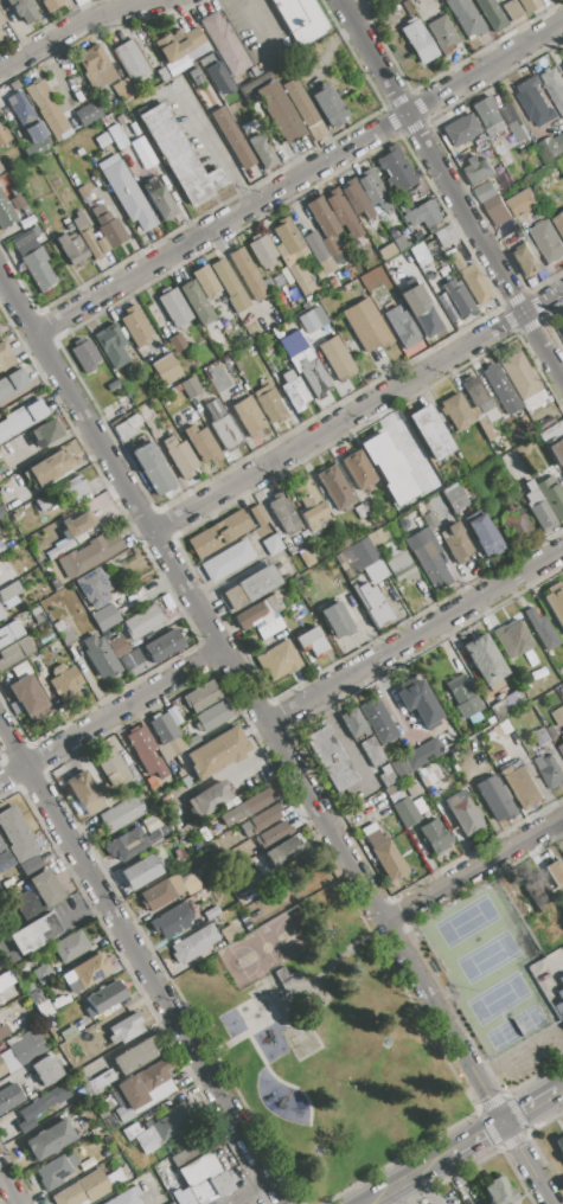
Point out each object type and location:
building: (51, 5)
building: (529, 5)
building: (407, 7)
building: (23, 9)
building: (512, 9)
building: (491, 14)
building: (466, 18)
building: (1, 20)
building: (302, 20)
road: (81, 23)
building: (1, 33)
building: (442, 34)
building: (418, 40)
building: (226, 43)
building: (173, 46)
building: (133, 60)
building: (96, 68)
building: (162, 73)
road: (56, 75)
building: (216, 75)
building: (14, 85)
building: (122, 87)
building: (554, 87)
building: (533, 101)
building: (300, 103)
building: (327, 105)
building: (45, 109)
building: (279, 111)
building: (487, 113)
building: (508, 113)
building: (88, 114)
building: (25, 117)
building: (72, 123)
road: (204, 127)
building: (460, 129)
building: (117, 136)
building: (4, 137)
building: (233, 137)
building: (480, 139)
building: (107, 141)
building: (552, 146)
building: (262, 150)
building: (179, 156)
building: (510, 167)
building: (0, 169)
building: (397, 169)
building: (476, 169)
road: (300, 179)
road: (450, 188)
building: (14, 191)
building: (83, 191)
building: (373, 191)
building: (485, 191)
building: (126, 193)
building: (356, 198)
building: (159, 200)
building: (522, 203)
building: (403, 204)
building: (497, 210)
building: (341, 212)
building: (6, 213)
building: (422, 216)
building: (324, 218)
building: (78, 219)
building: (559, 223)
building: (108, 226)
building: (288, 236)
building: (444, 236)
building: (548, 241)
building: (25, 242)
building: (401, 243)
building: (92, 244)
building: (72, 250)
building: (263, 251)
building: (325, 251)
building: (418, 254)
building: (525, 262)
building: (38, 269)
building: (247, 274)
building: (302, 277)
building: (472, 280)
building: (205, 282)
building: (230, 286)
building: (458, 297)
building: (174, 308)
building: (198, 308)
building: (424, 318)
building: (307, 321)
building: (318, 325)
building: (135, 326)
building: (366, 326)
building: (401, 327)
building: (562, 329)
building: (0, 333)
building: (177, 342)
building: (111, 346)
building: (84, 356)
building: (6, 357)
building: (337, 357)
building: (167, 370)
building: (311, 371)
building: (520, 376)
building: (12, 384)
building: (498, 384)
building: (113, 385)
building: (190, 388)
building: (293, 391)
building: (475, 393)
building: (270, 404)
building: (212, 408)
building: (36, 410)
road: (359, 412)
building: (456, 412)
building: (248, 417)
building: (14, 424)
building: (46, 431)
building: (226, 433)
building: (430, 433)
building: (548, 433)
building: (200, 443)
building: (557, 451)
building: (179, 456)
building: (389, 467)
building: (47, 468)
building: (152, 468)
building: (358, 472)
building: (337, 487)
building: (73, 489)
building: (551, 497)
building: (455, 498)
building: (45, 502)
building: (313, 506)
building: (538, 507)
building: (1, 512)
building: (257, 514)
building: (283, 514)
building: (429, 520)
building: (77, 525)
building: (518, 527)
building: (218, 533)
building: (484, 534)
building: (273, 544)
building: (456, 544)
building: (1, 546)
building: (59, 547)
building: (363, 552)
building: (89, 555)
building: (308, 557)
building: (428, 558)
building: (226, 561)
building: (399, 564)
building: (57, 585)
building: (94, 588)
building: (250, 588)
building: (9, 591)
building: (8, 601)
building: (275, 601)
building: (556, 602)
building: (375, 604)
building: (1, 615)
building: (37, 615)
building: (104, 616)
building: (248, 616)
building: (340, 619)
building: (142, 622)
building: (542, 629)
building: (64, 632)
building: (9, 633)
road: (416, 638)
building: (512, 638)
building: (313, 642)
building: (164, 646)
building: (119, 647)
building: (14, 652)
building: (101, 657)
building: (132, 659)
building: (279, 660)
building: (485, 661)
building: (64, 679)
building: (30, 694)
building: (463, 696)
building: (200, 697)
building: (514, 700)
building: (420, 705)
building: (499, 710)
building: (172, 715)
building: (558, 716)
road: (111, 717)
building: (212, 717)
building: (378, 721)
building: (353, 724)
building: (551, 731)
building: (167, 732)
building: (539, 732)
road: (277, 737)
building: (561, 749)
building: (372, 751)
building: (146, 752)
building: (217, 752)
building: (423, 752)
building: (330, 758)
building: (119, 761)
road: (354, 762)
building: (401, 767)
building: (550, 769)
road: (224, 773)
building: (429, 775)
building: (386, 776)
building: (520, 786)
building: (414, 790)
building: (84, 792)
building: (209, 799)
building: (494, 799)
building: (255, 802)
building: (409, 811)
building: (462, 812)
building: (121, 813)
building: (264, 818)
road: (352, 819)
building: (181, 821)
building: (237, 831)
building: (274, 833)
building: (435, 835)
building: (19, 838)
building: (132, 843)
building: (1, 848)
building: (284, 852)
building: (562, 852)
building: (385, 856)
building: (5, 860)
building: (30, 866)
road: (475, 870)
building: (556, 871)
building: (140, 872)
building: (535, 890)
building: (39, 894)
building: (155, 896)
building: (211, 912)
building: (238, 920)
building: (171, 922)
building: (36, 934)
building: (229, 934)
building: (194, 944)
building: (68, 949)
park: (267, 952)
road: (142, 963)
park: (488, 968)
building: (88, 973)
building: (41, 975)
building: (287, 978)
building: (561, 980)
building: (27, 985)
building: (7, 987)
building: (103, 999)
building: (559, 1004)
building: (46, 1007)
building: (126, 1029)
building: (4, 1031)
park: (373, 1032)
building: (69, 1033)
building: (26, 1046)
building: (136, 1056)
building: (6, 1062)
building: (46, 1069)
building: (98, 1083)
building: (143, 1083)
building: (155, 1095)
building: (119, 1099)
building: (45, 1101)
building: (11, 1102)
building: (123, 1113)
traffic signals: (507, 1123)
building: (160, 1128)
building: (51, 1140)
building: (559, 1145)
road: (467, 1147)
building: (62, 1167)
building: (197, 1167)
road: (228, 1167)
building: (167, 1174)
building: (220, 1184)
road: (9, 1186)
road: (429, 1189)
building: (83, 1190)
building: (498, 1192)
building: (127, 1197)

